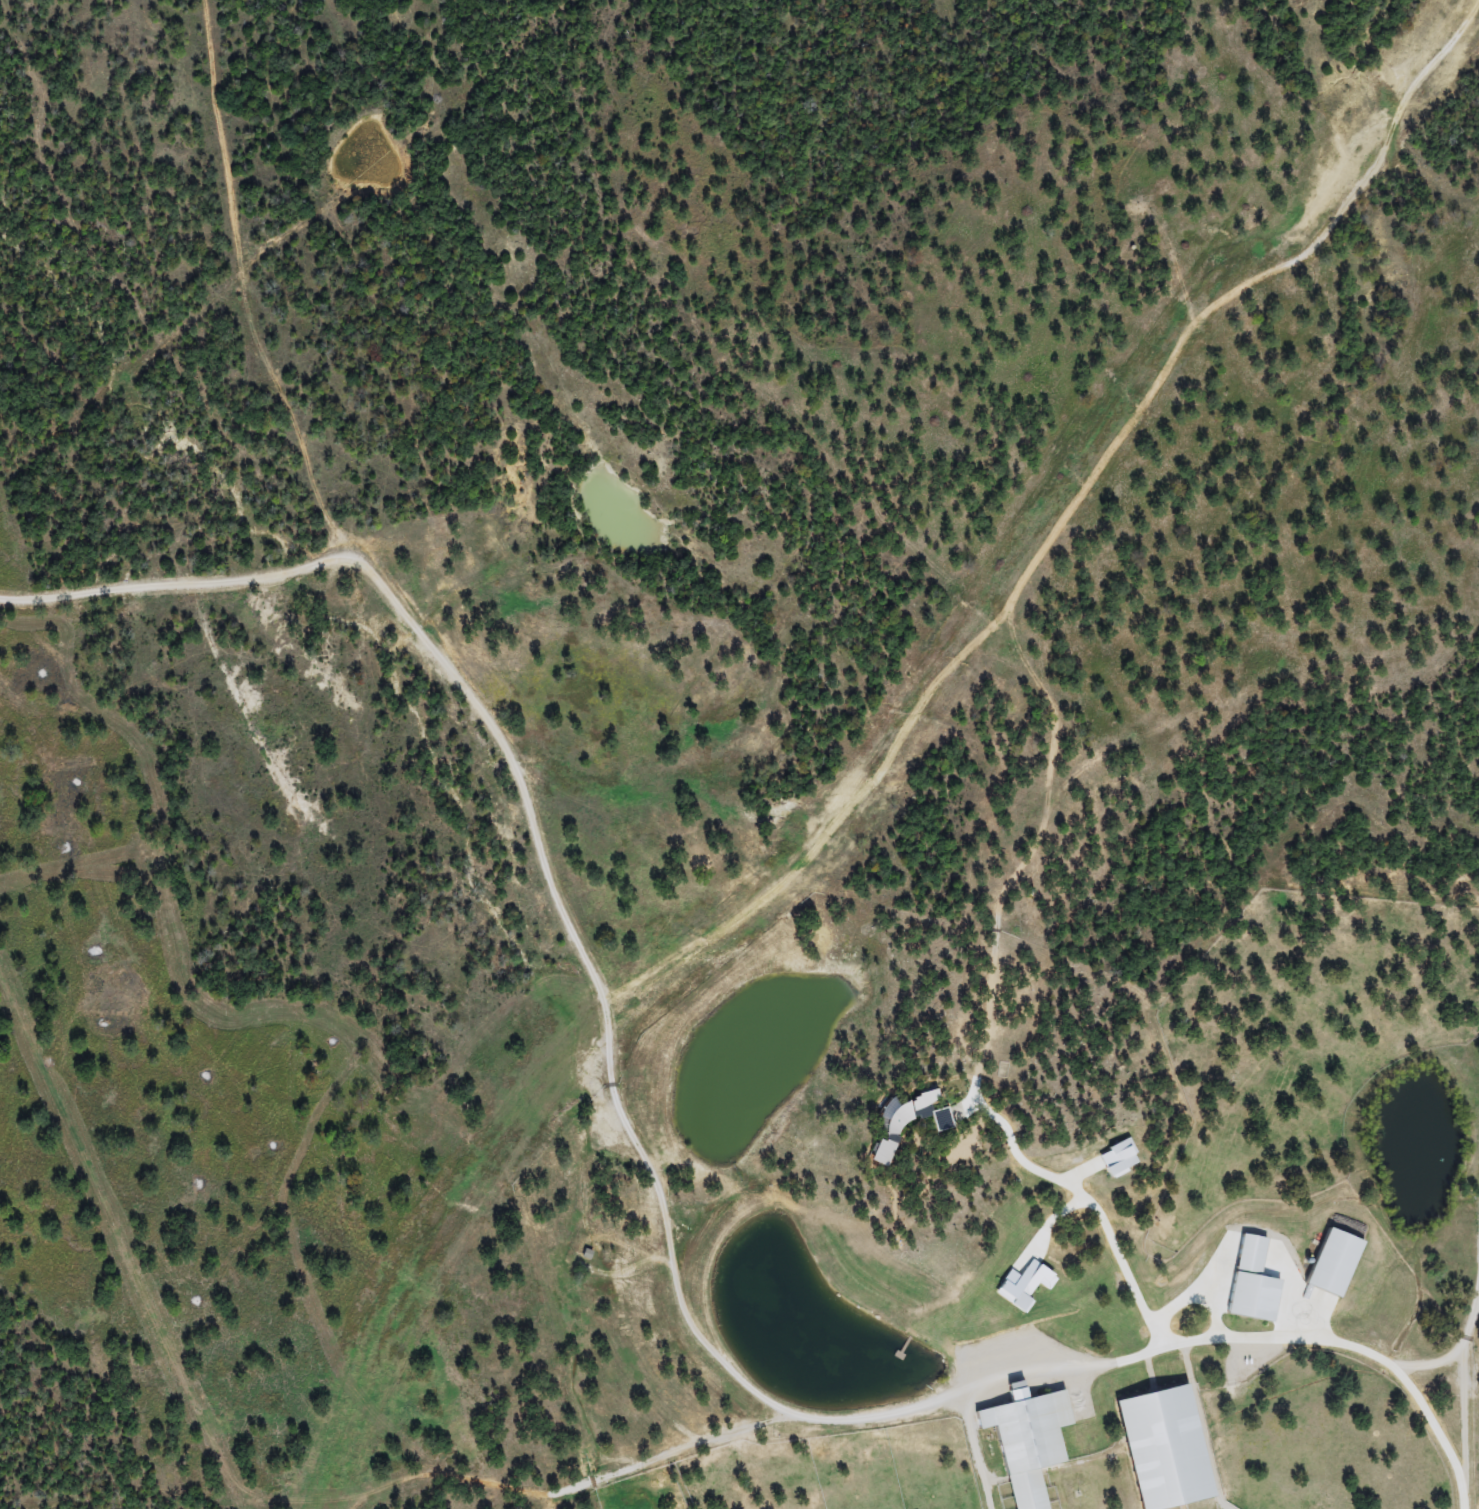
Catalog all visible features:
building: (941, 1120)
building: (899, 1125)
road: (1096, 1196)
building: (1335, 1263)
building: (1025, 1281)
building: (1253, 1282)
road: (1272, 1331)
building: (1028, 1441)
building: (1166, 1448)

